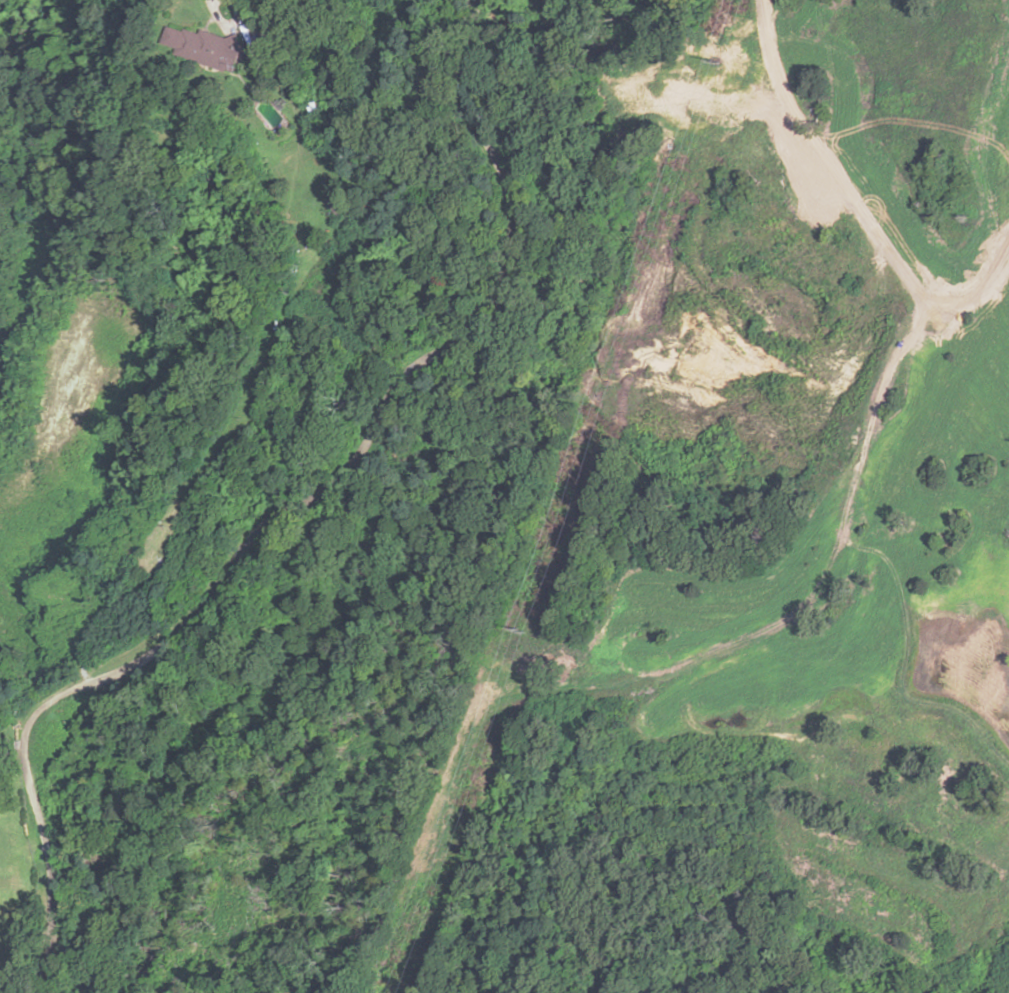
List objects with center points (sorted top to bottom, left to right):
building: (207, 48)

